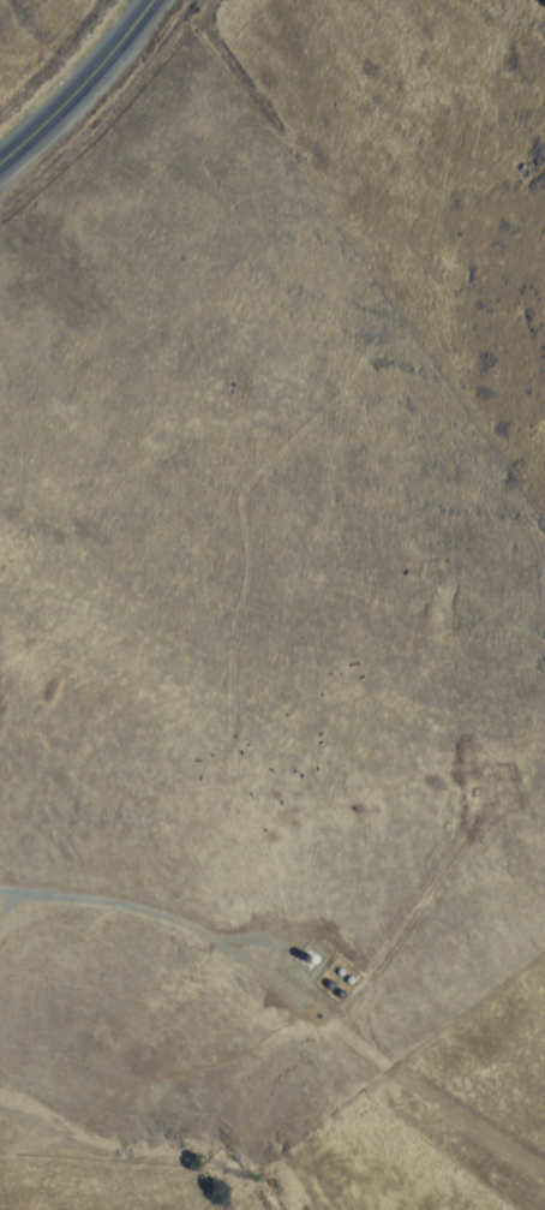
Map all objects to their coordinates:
road: (77, 84)
crop: (128, 779)

